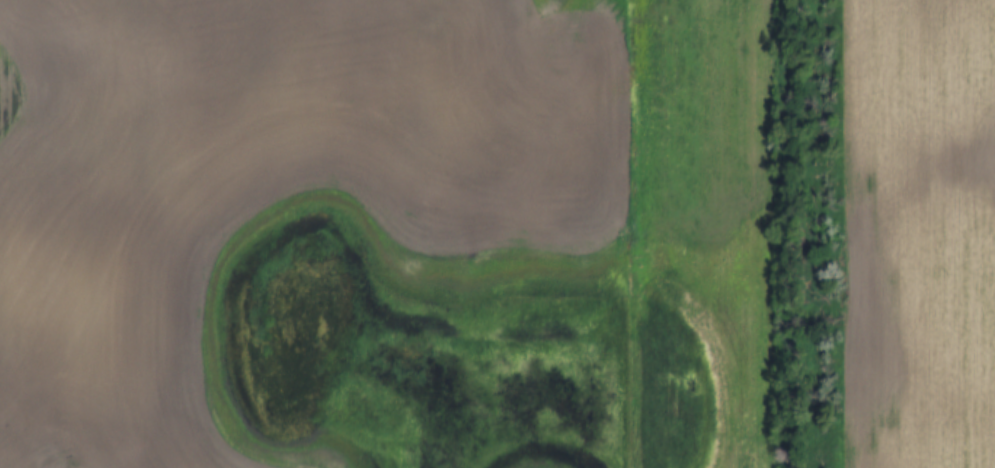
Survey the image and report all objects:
road: (633, 234)

